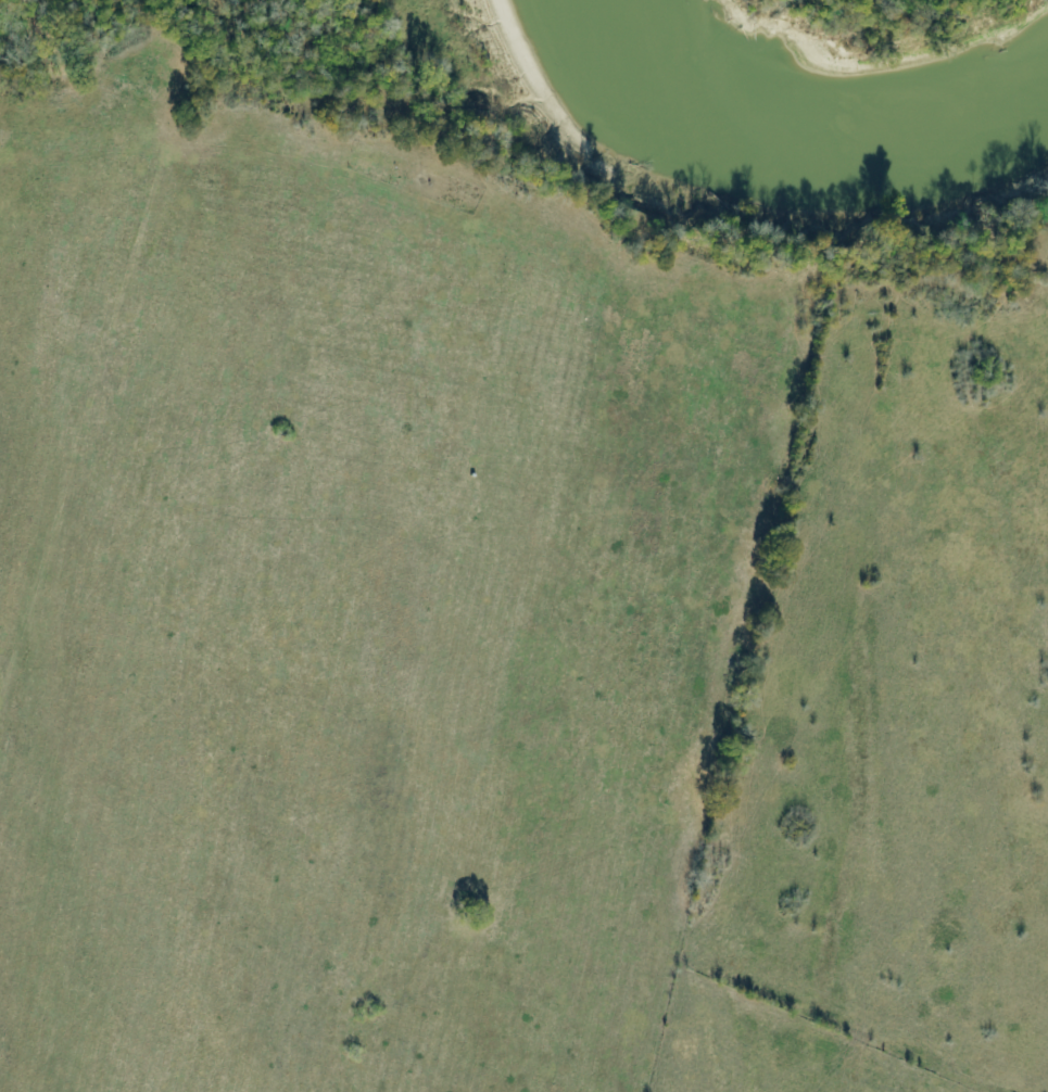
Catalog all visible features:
river: (787, 115)

